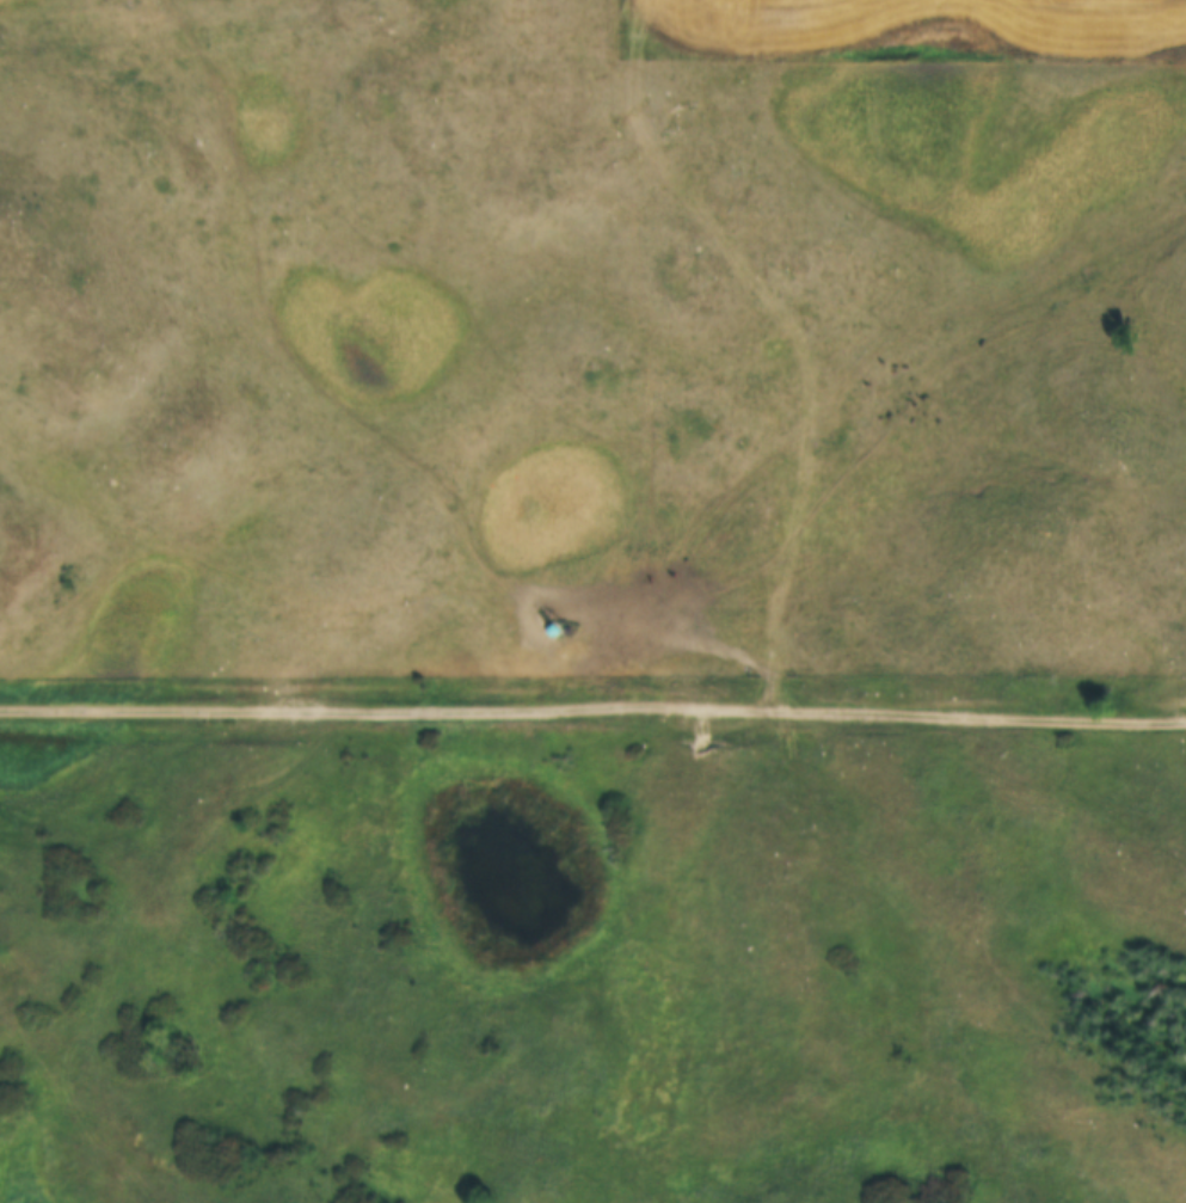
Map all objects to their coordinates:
storage tank: (564, 638)
storage tank: (595, 645)
road: (592, 707)

